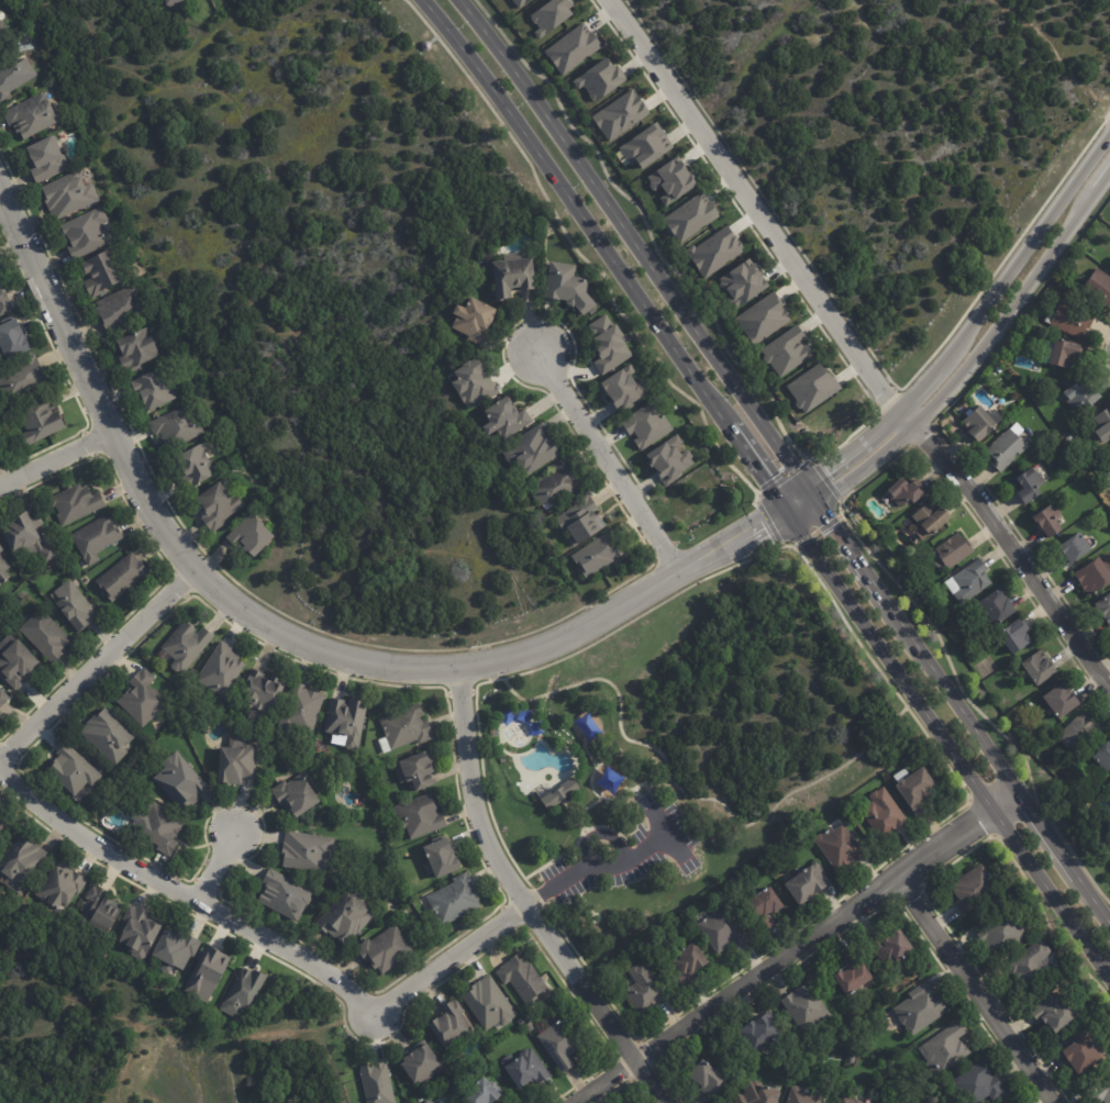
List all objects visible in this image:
building: (173, 2)
building: (519, 2)
building: (551, 15)
building: (2, 33)
building: (573, 48)
road: (1053, 52)
building: (14, 75)
building: (599, 79)
building: (31, 114)
building: (620, 114)
park: (893, 135)
building: (646, 146)
building: (45, 157)
building: (670, 181)
building: (68, 193)
road: (746, 203)
building: (690, 216)
building: (85, 231)
building: (714, 250)
building: (98, 272)
building: (511, 274)
building: (742, 282)
building: (1099, 286)
building: (568, 287)
park: (319, 291)
building: (3, 300)
building: (121, 308)
road: (257, 309)
building: (763, 317)
building: (1073, 319)
building: (473, 320)
road: (964, 335)
building: (12, 341)
building: (608, 344)
building: (136, 348)
building: (786, 350)
building: (1066, 353)
road: (968, 360)
building: (23, 377)
building: (473, 382)
building: (812, 387)
building: (622, 388)
building: (153, 389)
building: (1081, 397)
building: (504, 417)
building: (38, 421)
building: (979, 423)
building: (646, 424)
building: (177, 425)
building: (1102, 425)
building: (1061, 432)
building: (1069, 437)
building: (1008, 447)
building: (531, 448)
building: (0, 449)
building: (1109, 449)
building: (668, 459)
road: (787, 459)
road: (607, 460)
road: (56, 461)
building: (193, 465)
building: (1077, 475)
building: (556, 481)
building: (1080, 481)
traffic signals: (803, 482)
building: (1030, 483)
building: (1102, 487)
road: (768, 488)
building: (906, 492)
traffic signals: (777, 500)
traffic signals: (818, 502)
building: (75, 503)
building: (217, 505)
building: (930, 519)
building: (1050, 519)
building: (579, 520)
traffic signals: (792, 522)
building: (26, 535)
road: (726, 535)
building: (252, 536)
building: (96, 537)
road: (1009, 543)
building: (1, 547)
road: (734, 547)
building: (1074, 548)
building: (952, 551)
building: (596, 554)
building: (3, 570)
building: (1095, 575)
building: (121, 577)
building: (969, 580)
building: (921, 586)
road: (231, 602)
building: (75, 605)
building: (998, 605)
building: (1105, 606)
building: (44, 634)
building: (1019, 634)
building: (186, 645)
building: (15, 664)
building: (1040, 667)
road: (97, 669)
building: (222, 669)
road: (895, 689)
building: (262, 691)
building: (2, 697)
building: (141, 699)
building: (1062, 700)
building: (302, 708)
road: (462, 709)
building: (0, 712)
building: (346, 720)
building: (404, 728)
building: (1080, 733)
building: (107, 735)
park: (680, 744)
building: (1103, 757)
building: (503, 760)
building: (236, 761)
building: (73, 769)
building: (417, 770)
building: (179, 781)
building: (1109, 782)
building: (918, 790)
building: (557, 792)
building: (295, 795)
building: (884, 814)
building: (420, 816)
building: (2, 822)
building: (159, 829)
building: (841, 847)
building: (307, 851)
building: (440, 858)
parking lot: (626, 862)
building: (21, 864)
road: (224, 865)
road: (599, 867)
building: (808, 883)
building: (60, 887)
building: (973, 888)
road: (187, 895)
building: (284, 895)
building: (454, 900)
building: (765, 907)
building: (100, 910)
building: (346, 916)
building: (723, 931)
building: (138, 933)
building: (1003, 933)
road: (547, 936)
building: (890, 947)
building: (386, 949)
building: (175, 950)
road: (796, 950)
road: (453, 962)
building: (688, 963)
building: (1031, 965)
building: (207, 973)
building: (852, 976)
building: (522, 978)
building: (644, 990)
building: (243, 992)
road: (977, 992)
building: (489, 1004)
building: (806, 1009)
building: (921, 1009)
building: (1055, 1013)
building: (451, 1024)
building: (531, 1027)
building: (761, 1034)
building: (560, 1046)
building: (946, 1047)
building: (1081, 1055)
building: (853, 1058)
building: (421, 1063)
building: (526, 1070)
building: (708, 1080)
building: (377, 1083)
building: (977, 1084)
building: (481, 1093)
building: (1101, 1093)
building: (758, 1094)
building: (802, 1096)
building: (848, 1100)

